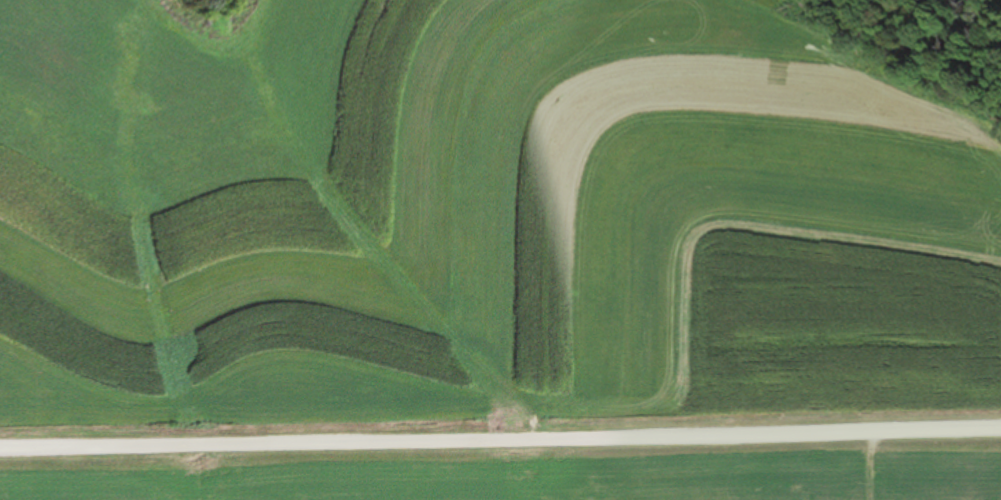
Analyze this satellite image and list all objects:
road: (500, 469)

